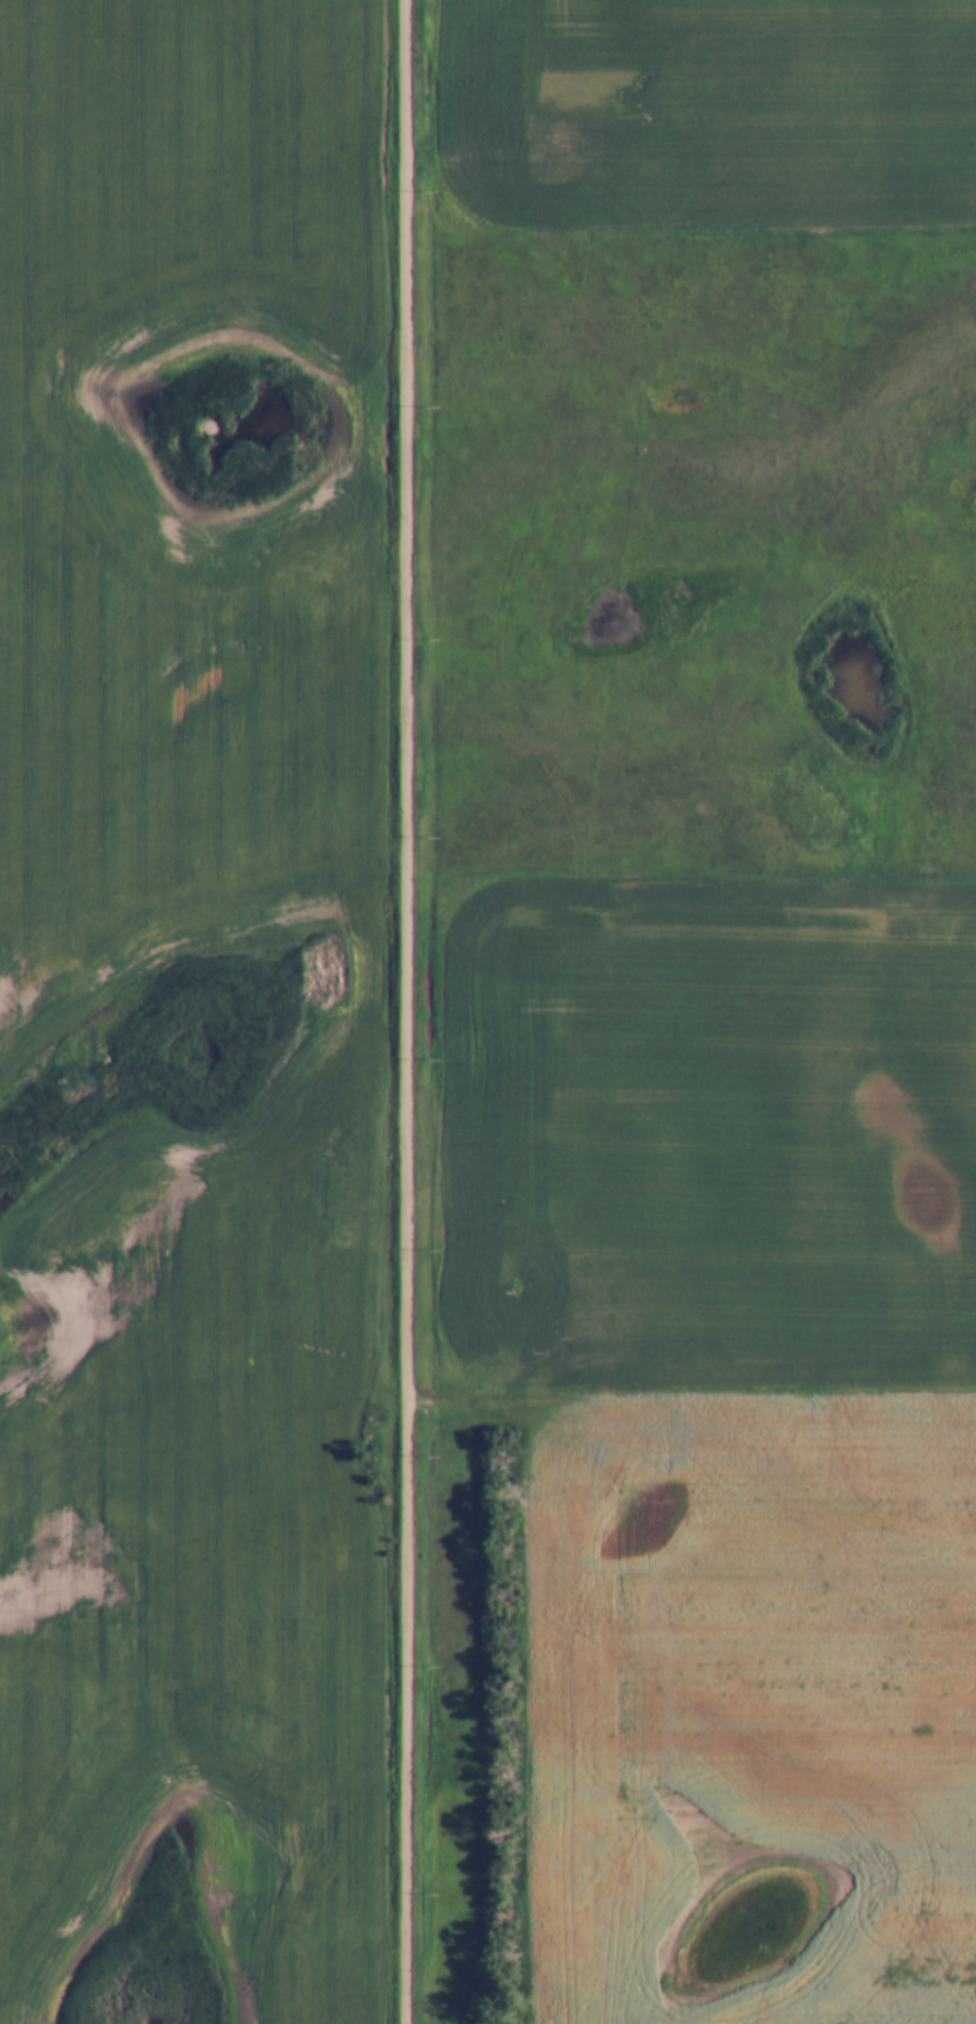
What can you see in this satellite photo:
road: (407, 1011)
road: (691, 1404)

